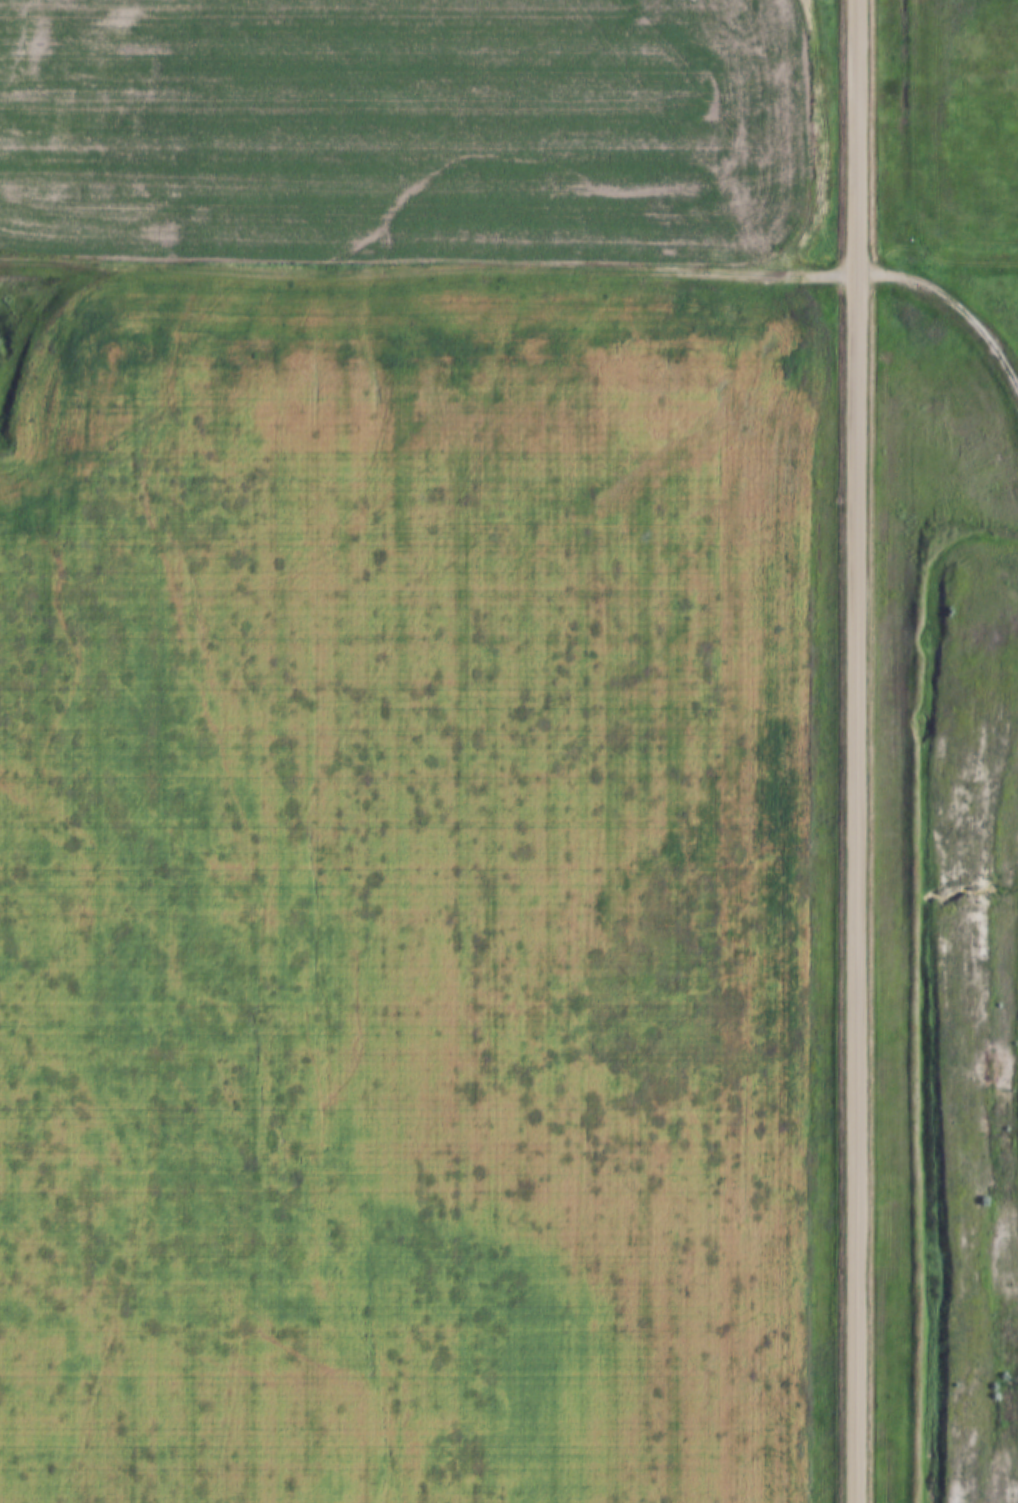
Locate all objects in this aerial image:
road: (429, 270)
road: (952, 301)
road: (857, 751)
quarry: (967, 1007)
road: (982, 1102)

